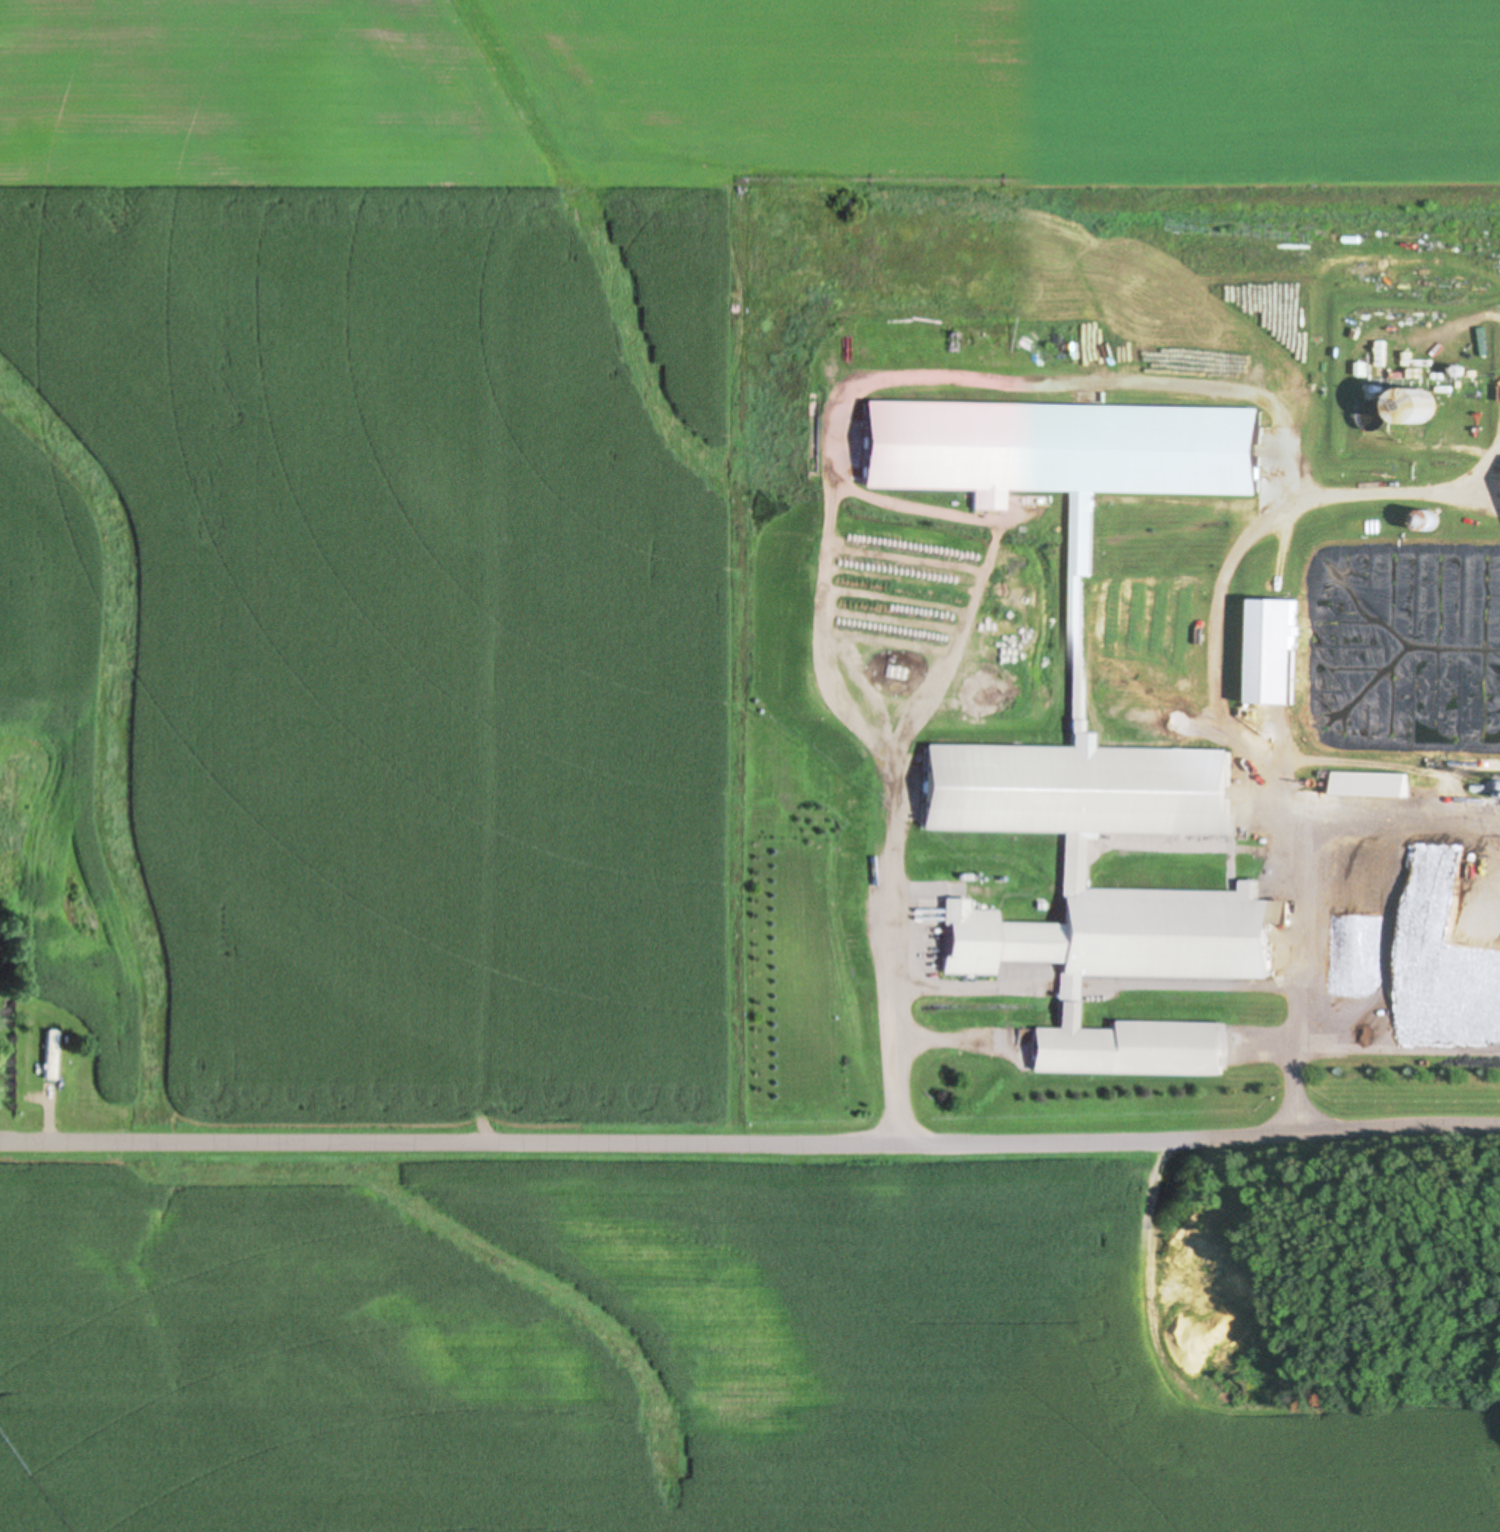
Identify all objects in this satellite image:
road: (1055, 379)
road: (1397, 492)
crop: (484, 494)
building: (1276, 670)
building: (1073, 704)
road: (1390, 822)
building: (49, 1055)
road: (750, 1140)
crop: (642, 1352)

